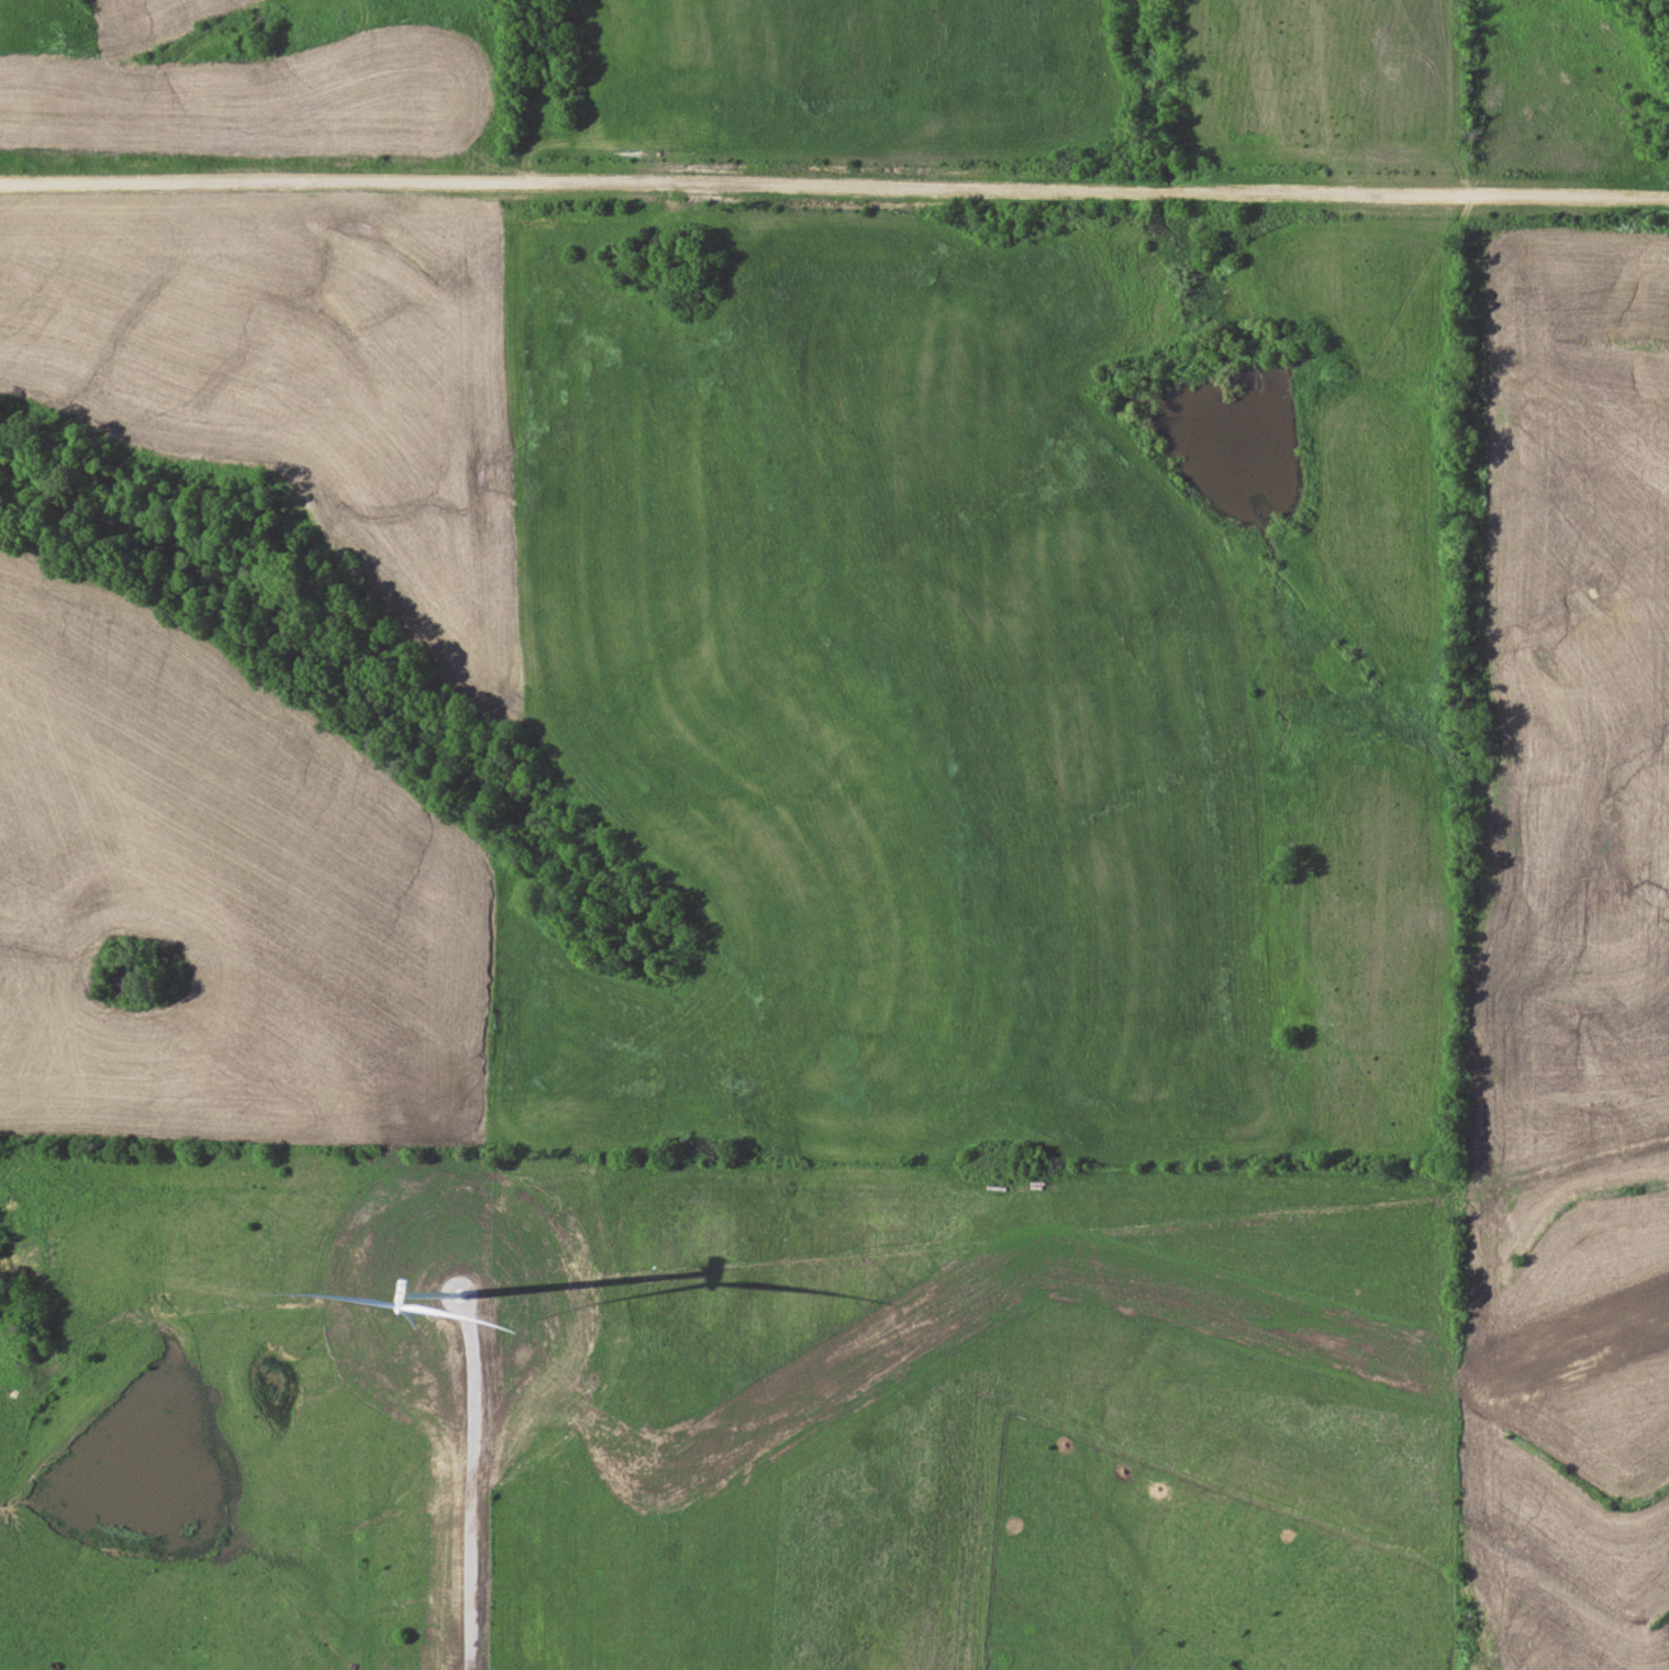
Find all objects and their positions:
road: (834, 191)
wind turbine: (461, 1300)

